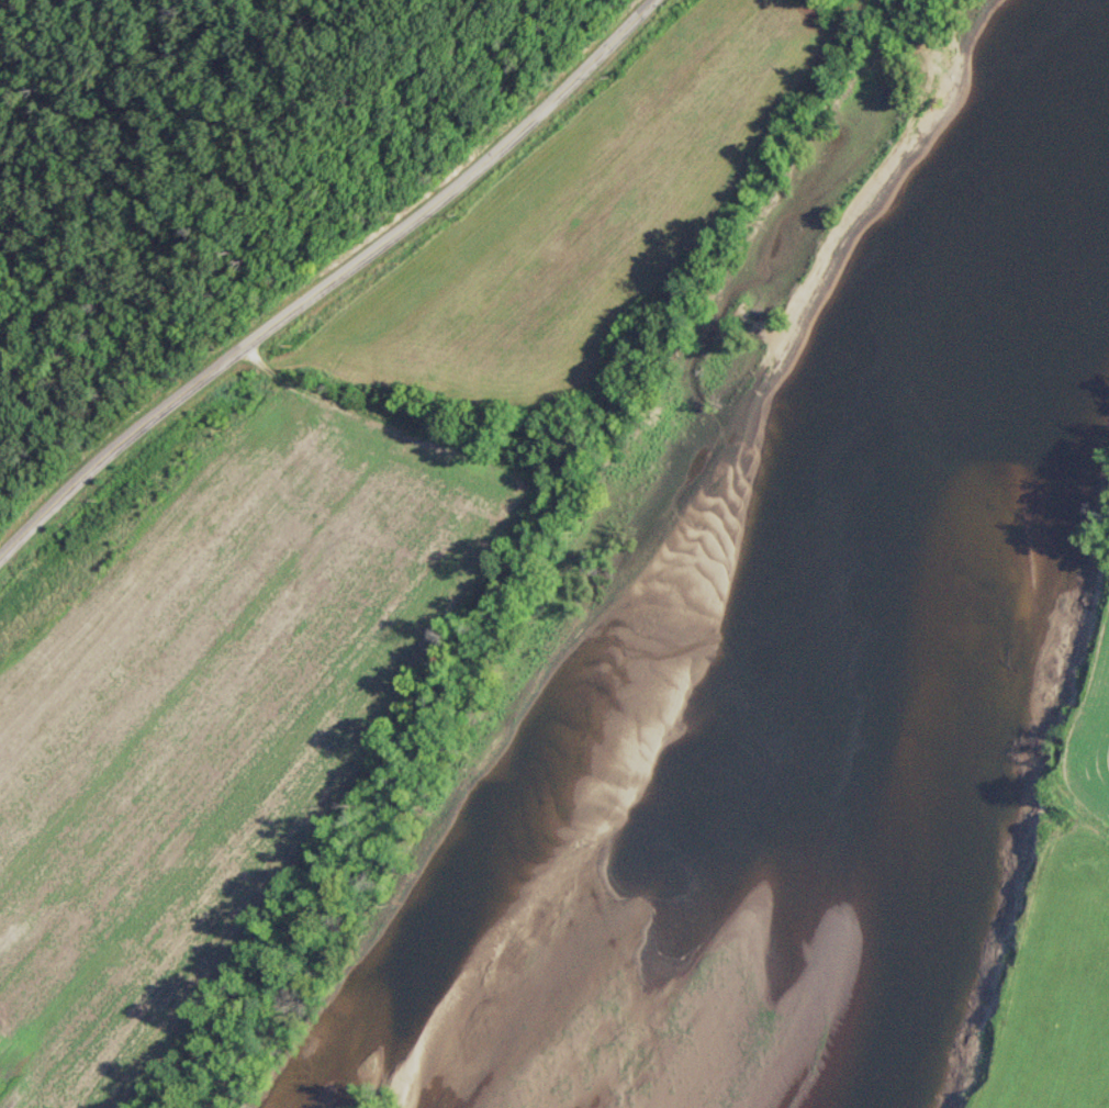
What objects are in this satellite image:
road: (155, 157)
road: (326, 272)
river: (912, 619)

